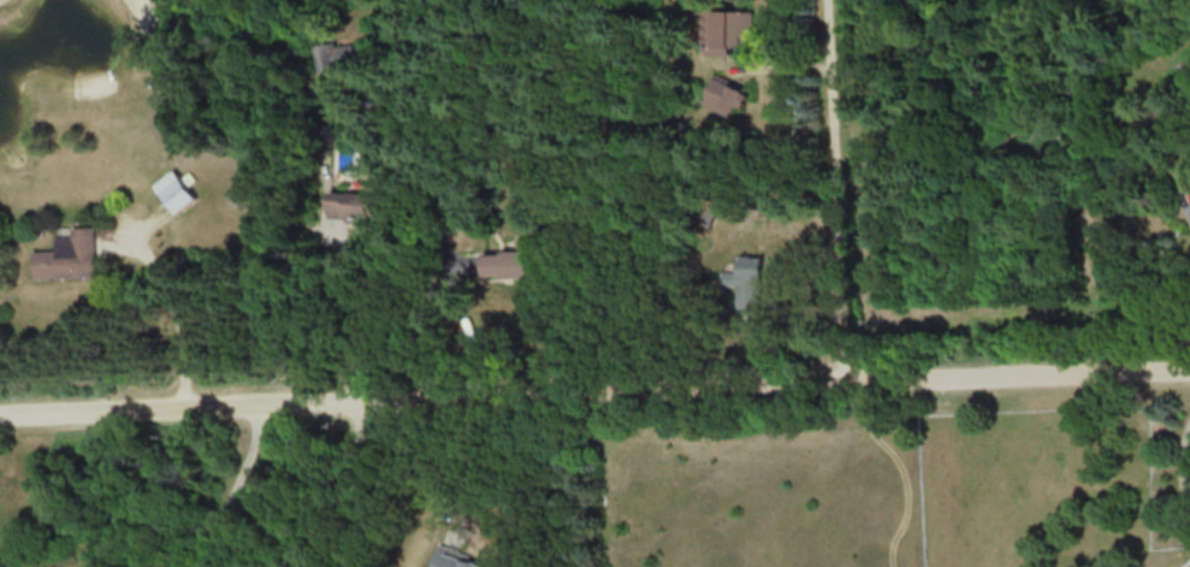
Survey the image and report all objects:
building: (732, 30)
building: (343, 54)
building: (728, 94)
building: (176, 189)
road: (834, 190)
road: (1188, 202)
building: (351, 205)
building: (703, 214)
building: (70, 255)
building: (508, 260)
building: (746, 282)
road: (172, 306)
road: (594, 389)
road: (1178, 472)
road: (351, 482)
road: (233, 484)
building: (456, 559)

